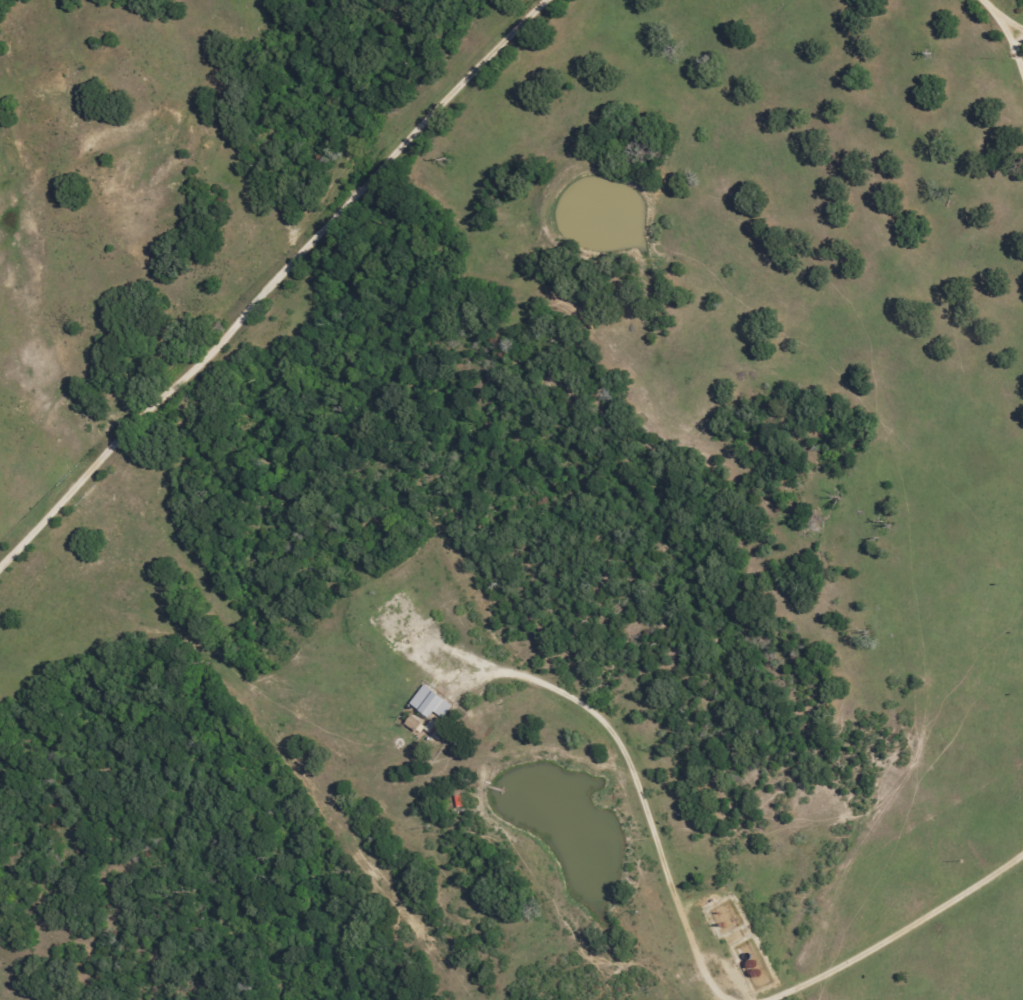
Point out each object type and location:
road: (11, 7)
road: (996, 14)
road: (275, 282)
building: (431, 703)
building: (422, 725)

